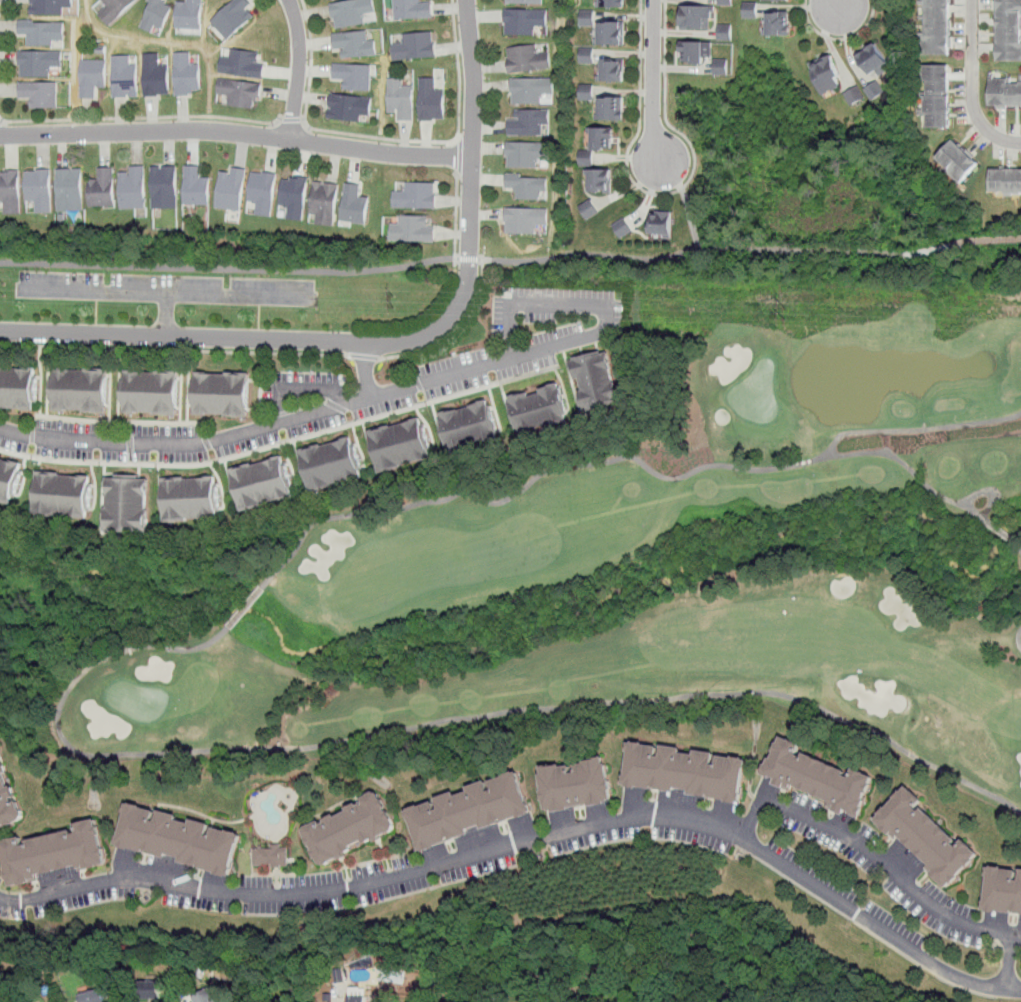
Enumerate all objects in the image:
building: (524, 1)
building: (781, 1)
building: (614, 2)
road: (839, 4)
building: (51, 6)
building: (116, 9)
building: (414, 9)
building: (751, 10)
building: (354, 12)
building: (191, 14)
building: (158, 15)
building: (702, 17)
building: (235, 18)
building: (527, 21)
building: (786, 23)
building: (940, 28)
building: (1009, 29)
building: (725, 31)
building: (43, 32)
building: (613, 35)
road: (841, 39)
building: (357, 44)
building: (417, 46)
building: (699, 53)
building: (587, 55)
building: (530, 59)
building: (879, 60)
building: (41, 62)
building: (245, 64)
building: (721, 65)
road: (298, 69)
building: (615, 71)
building: (188, 74)
building: (834, 74)
building: (356, 75)
building: (157, 76)
building: (94, 77)
building: (126, 77)
road: (654, 82)
road: (972, 85)
building: (533, 90)
building: (585, 91)
building: (242, 92)
building: (1006, 92)
building: (41, 94)
building: (941, 94)
building: (403, 99)
building: (430, 101)
road: (667, 103)
building: (351, 107)
building: (616, 109)
road: (143, 117)
road: (641, 119)
road: (292, 120)
building: (531, 122)
road: (237, 131)
building: (605, 137)
road: (389, 140)
building: (529, 154)
building: (586, 157)
road: (460, 158)
building: (967, 161)
building: (600, 173)
building: (1010, 180)
building: (528, 186)
building: (167, 187)
building: (198, 187)
building: (134, 188)
building: (41, 189)
building: (71, 189)
building: (104, 189)
building: (233, 190)
building: (11, 191)
building: (264, 192)
building: (296, 197)
building: (415, 197)
building: (326, 202)
building: (357, 205)
building: (589, 208)
road: (691, 218)
building: (527, 220)
road: (456, 223)
building: (665, 224)
building: (622, 227)
building: (412, 230)
road: (984, 238)
road: (690, 250)
road: (926, 251)
road: (469, 258)
road: (230, 269)
power tower: (2, 289)
road: (162, 293)
power tower: (393, 301)
road: (588, 305)
power tower: (788, 309)
road: (167, 315)
road: (453, 330)
road: (390, 342)
road: (175, 350)
road: (365, 357)
road: (366, 371)
building: (601, 381)
building: (19, 389)
building: (82, 390)
road: (301, 392)
building: (153, 393)
building: (223, 395)
building: (544, 409)
building: (473, 427)
road: (262, 429)
building: (403, 446)
road: (629, 458)
building: (335, 465)
road: (908, 468)
building: (10, 481)
building: (264, 484)
road: (989, 492)
building: (64, 496)
building: (193, 500)
building: (129, 506)
road: (1018, 546)
park: (631, 566)
road: (1020, 639)
road: (437, 724)
building: (689, 771)
building: (826, 779)
building: (584, 782)
building: (8, 794)
building: (468, 804)
building: (356, 826)
building: (926, 835)
building: (184, 836)
road: (529, 840)
building: (57, 850)
building: (273, 851)
road: (893, 870)
building: (328, 872)
building: (1006, 886)
building: (900, 896)
building: (180, 902)
building: (52, 910)
building: (150, 990)
building: (205, 996)
building: (92, 997)
building: (359, 999)

